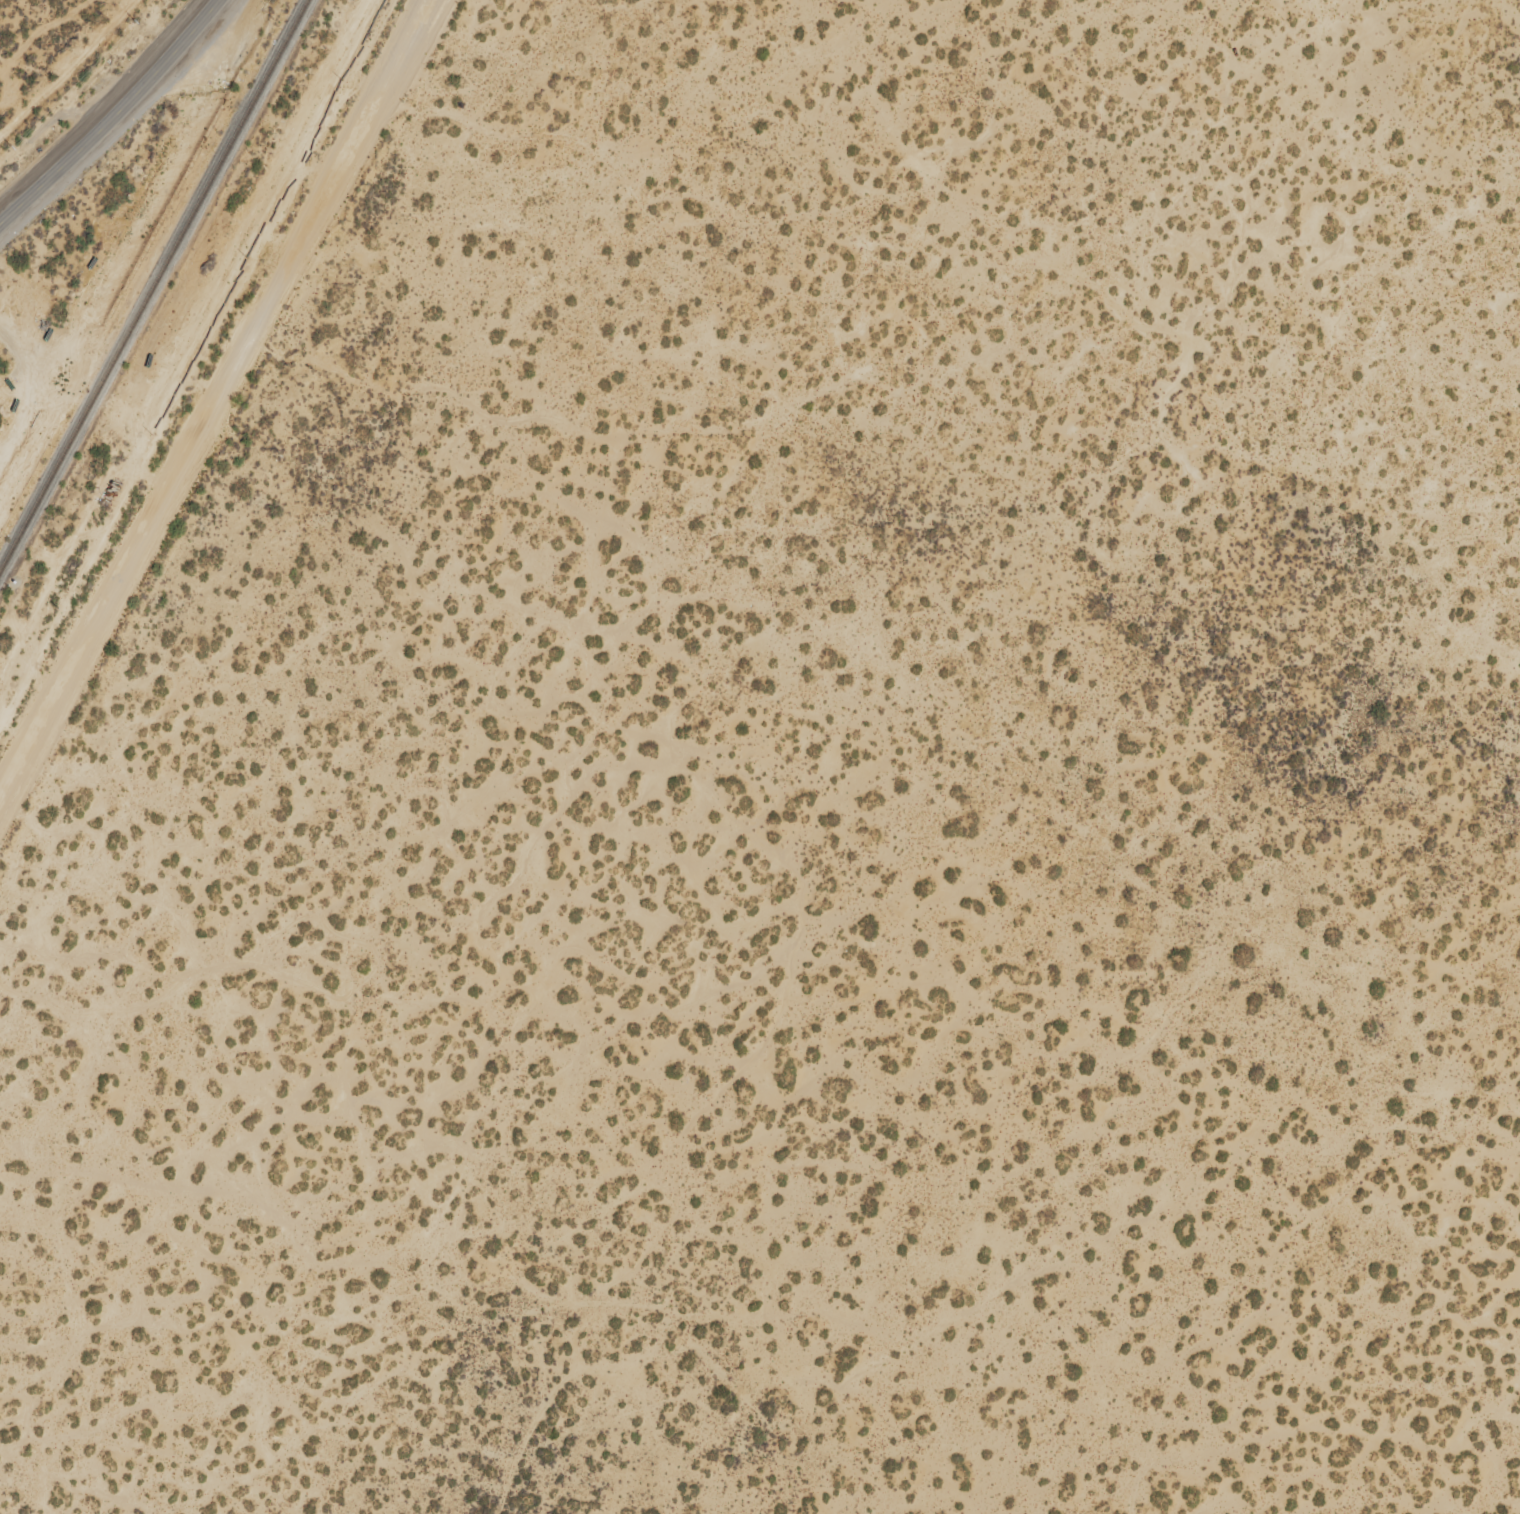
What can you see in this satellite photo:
road: (114, 116)
railway: (154, 284)

